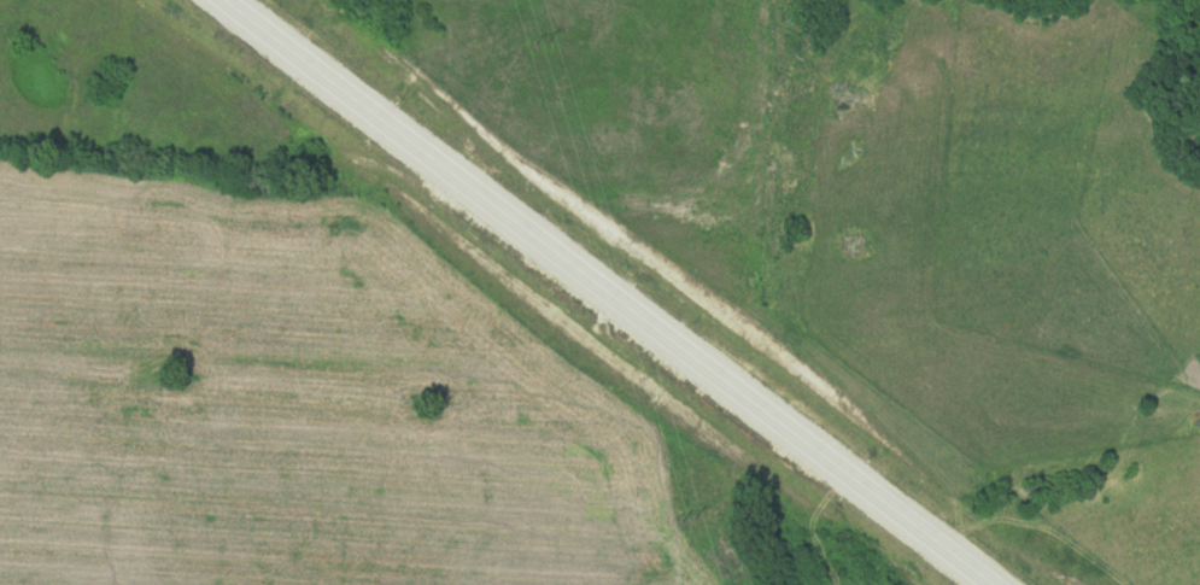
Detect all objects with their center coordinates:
road: (605, 291)
crop: (308, 408)

